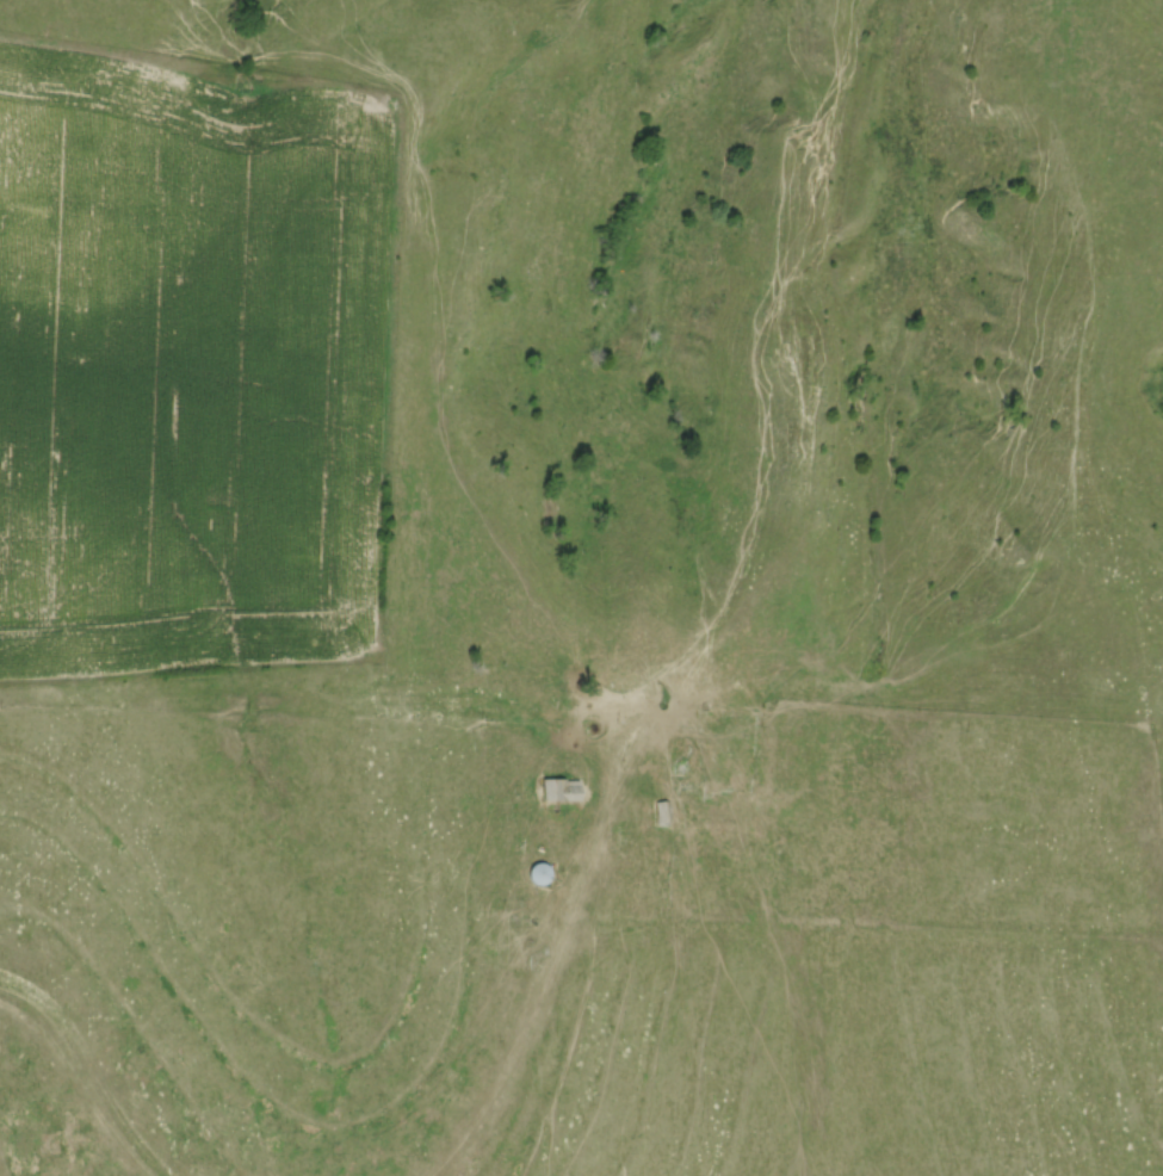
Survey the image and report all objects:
building: (558, 790)
building: (663, 815)
building: (539, 873)
road: (528, 1029)
road: (89, 1069)

